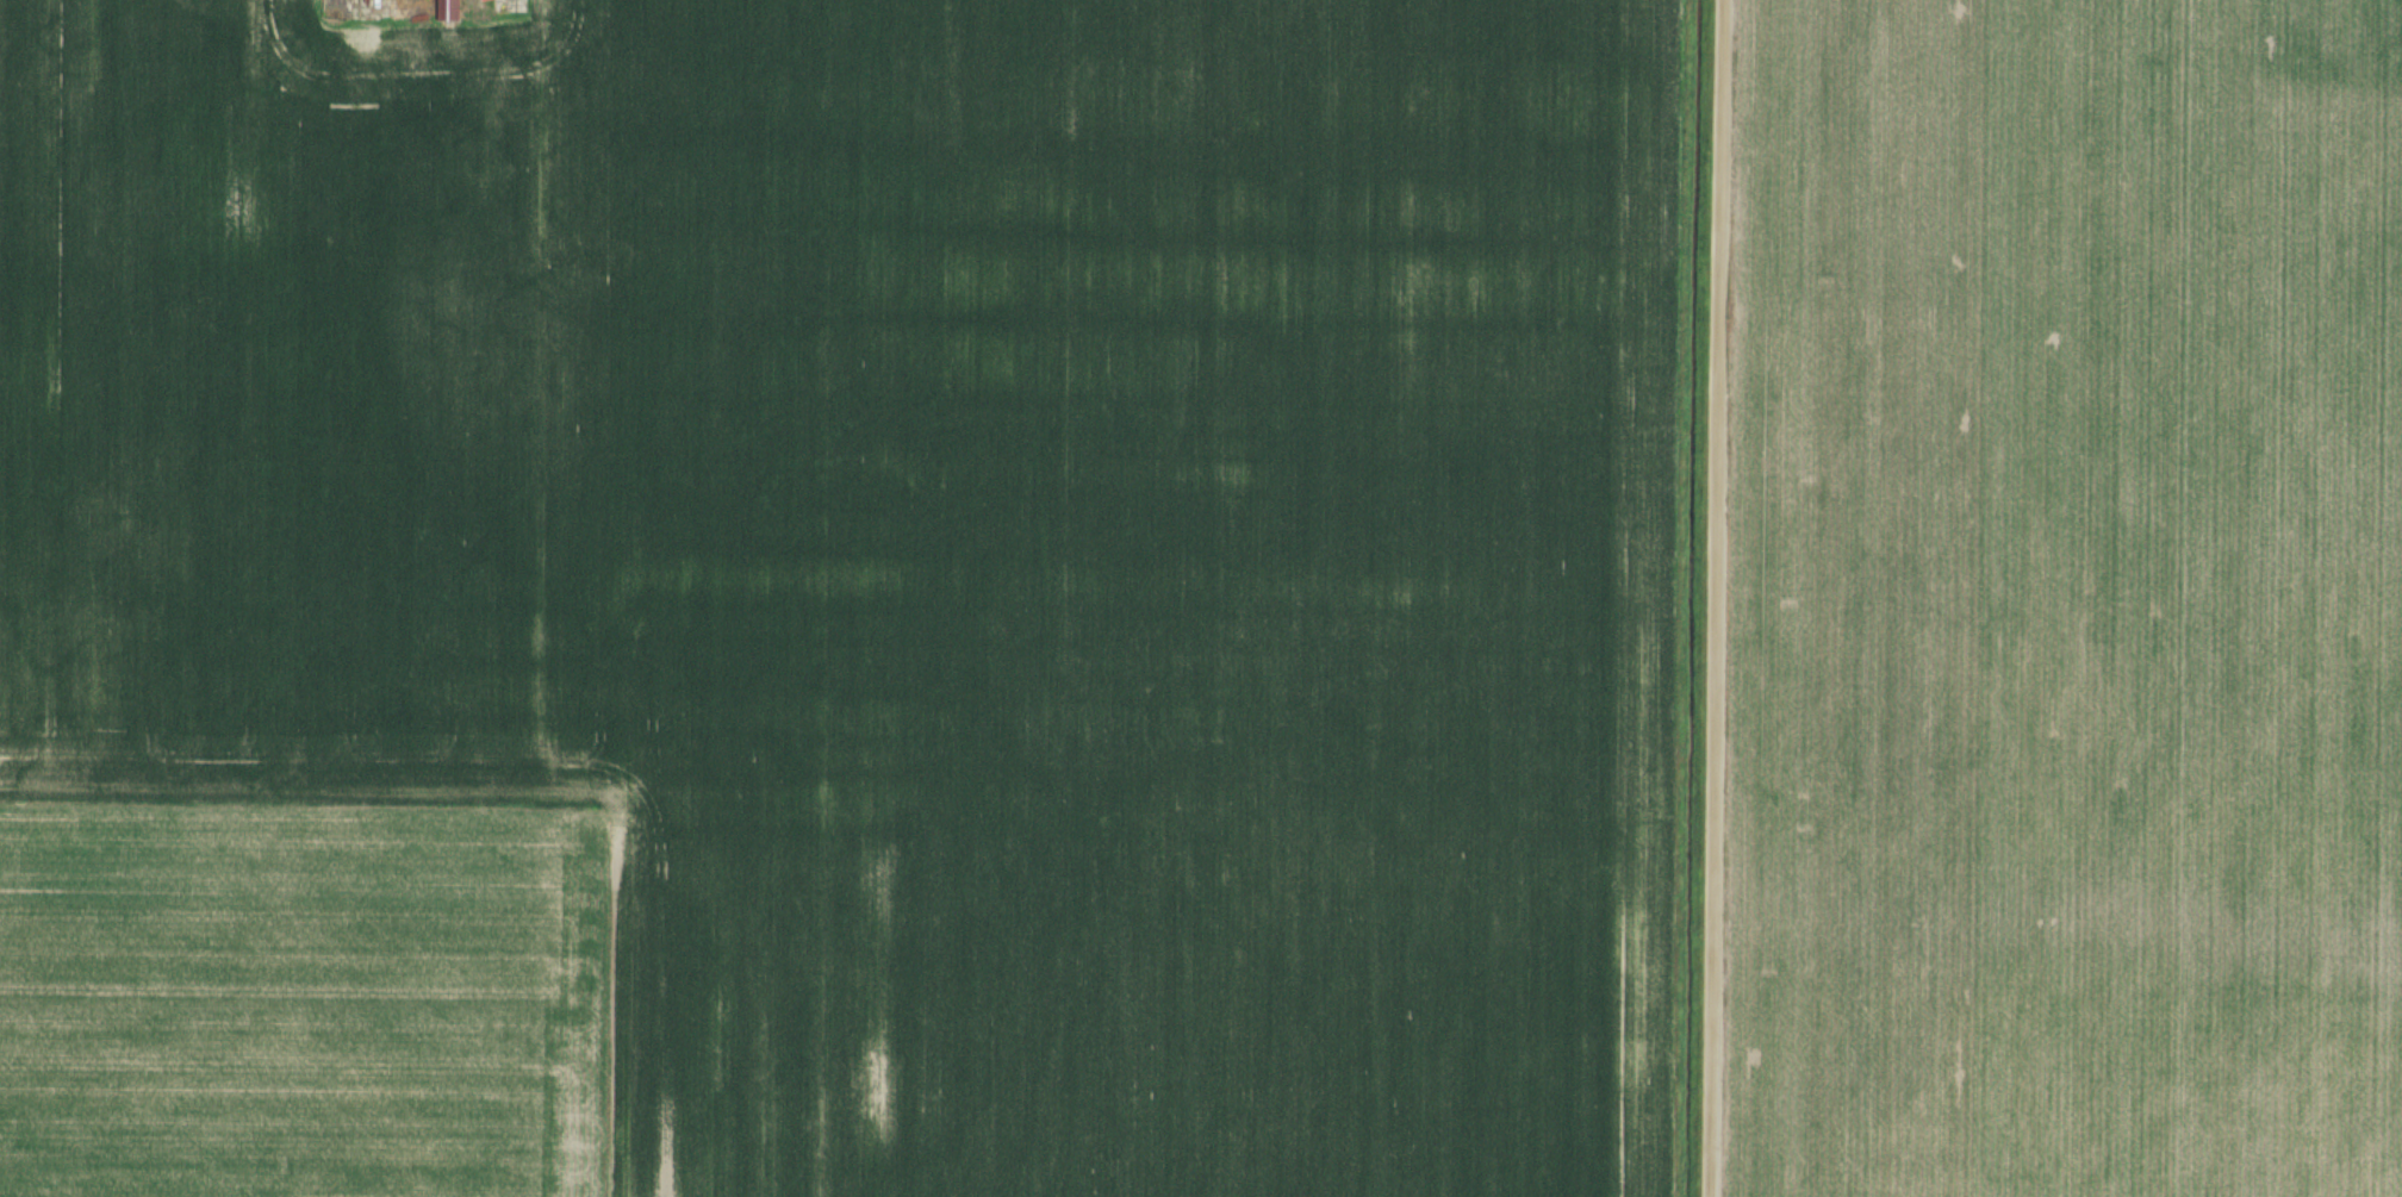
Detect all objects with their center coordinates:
building: (452, 10)
road: (1705, 598)

